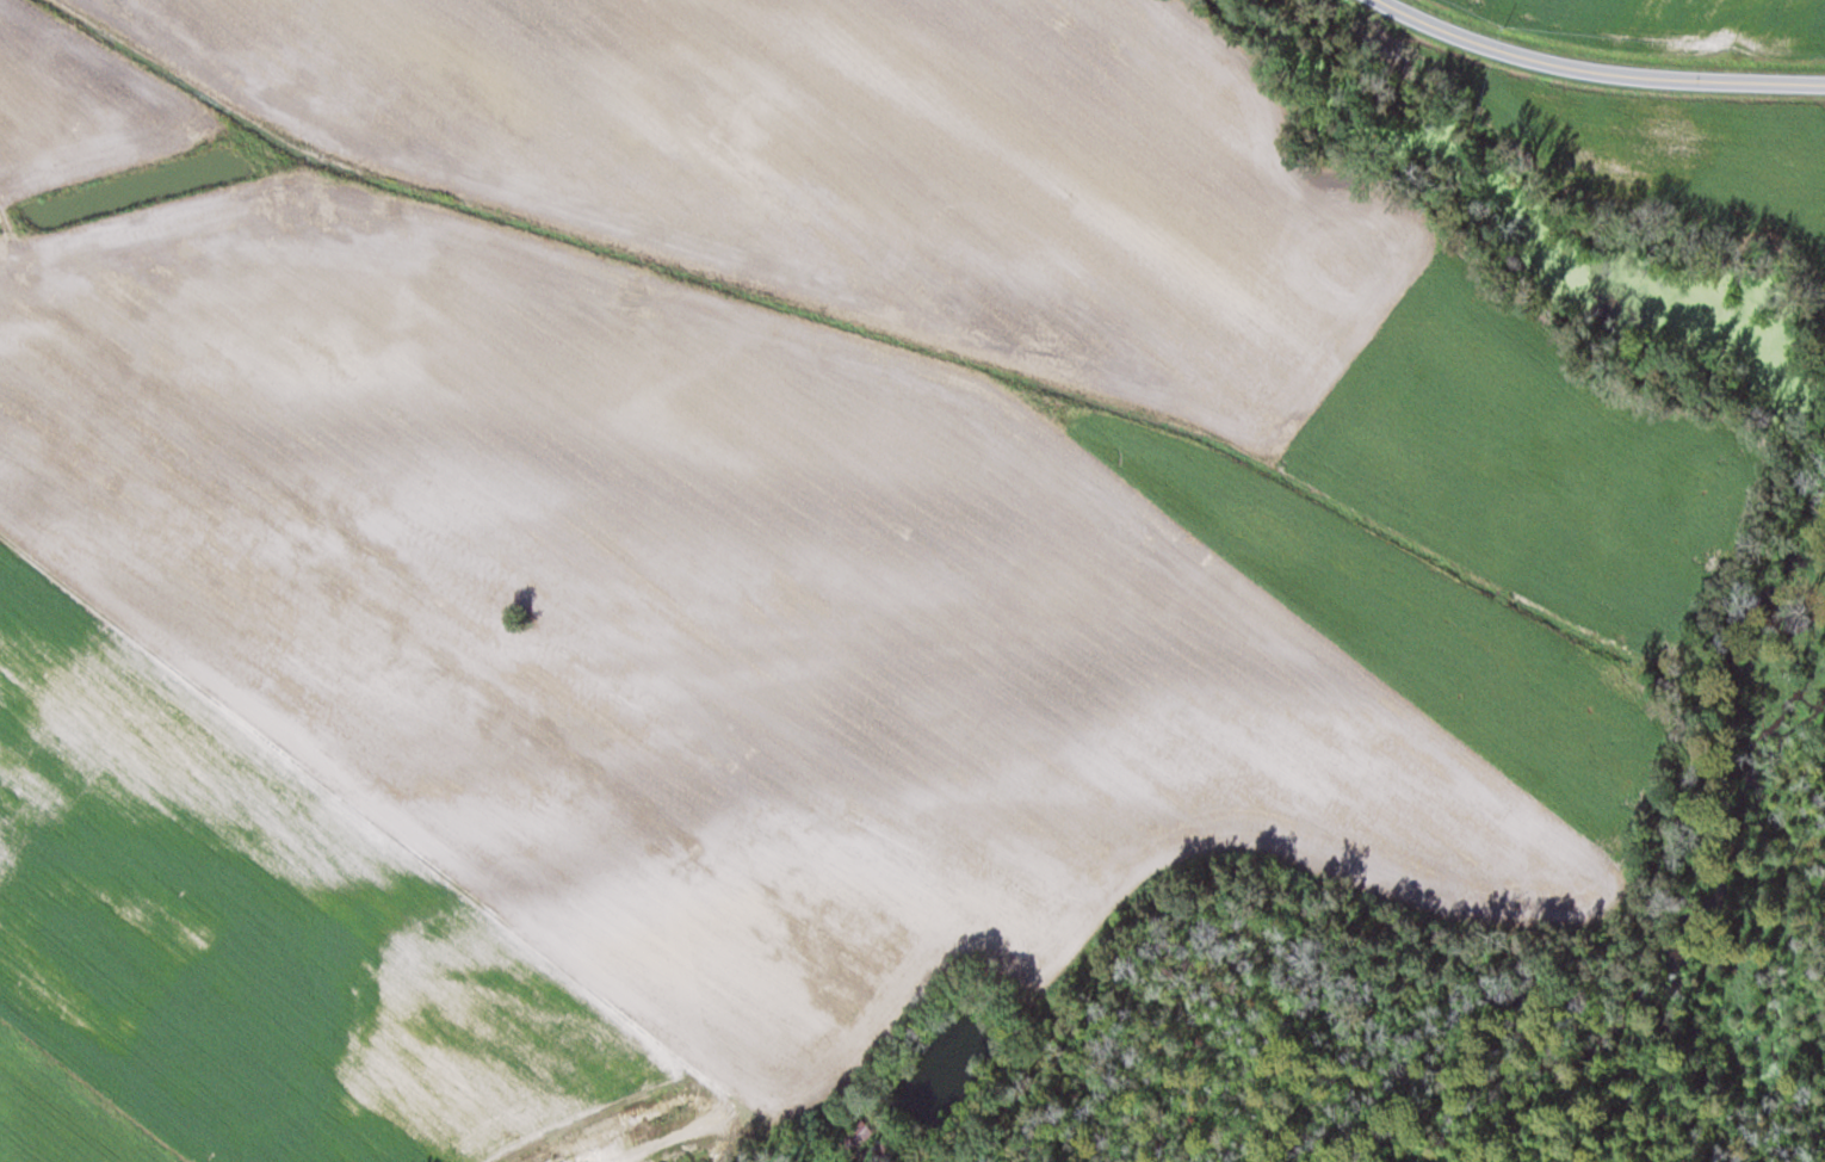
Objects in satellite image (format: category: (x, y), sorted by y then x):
road: (1597, 69)
building: (862, 1144)

